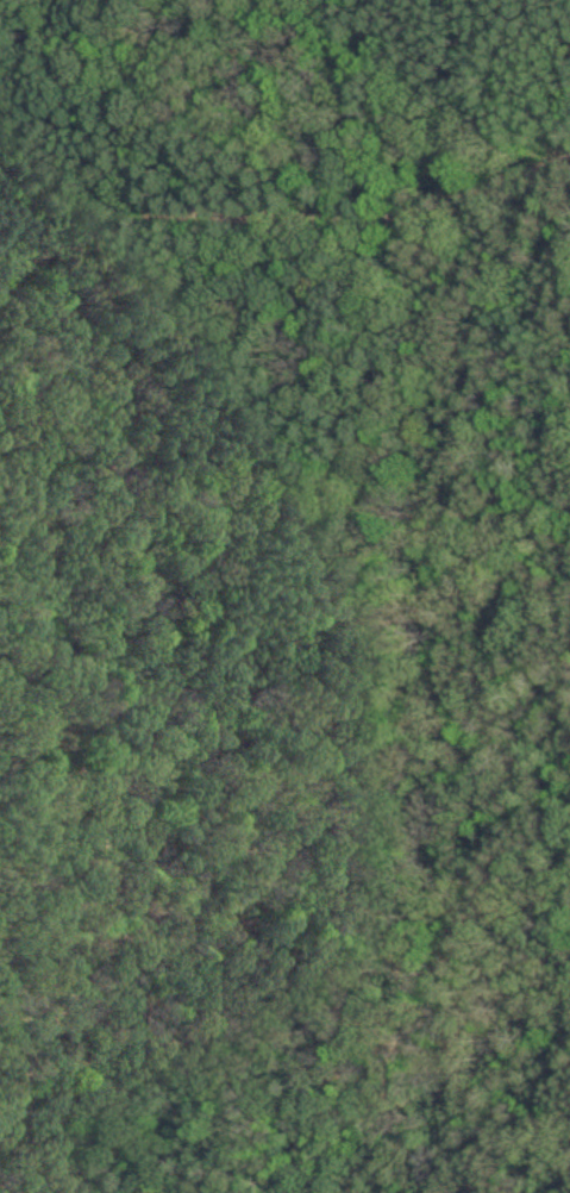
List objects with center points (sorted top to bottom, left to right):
road: (8, 12)
road: (282, 207)
road: (156, 467)
road: (121, 787)
road: (432, 970)

